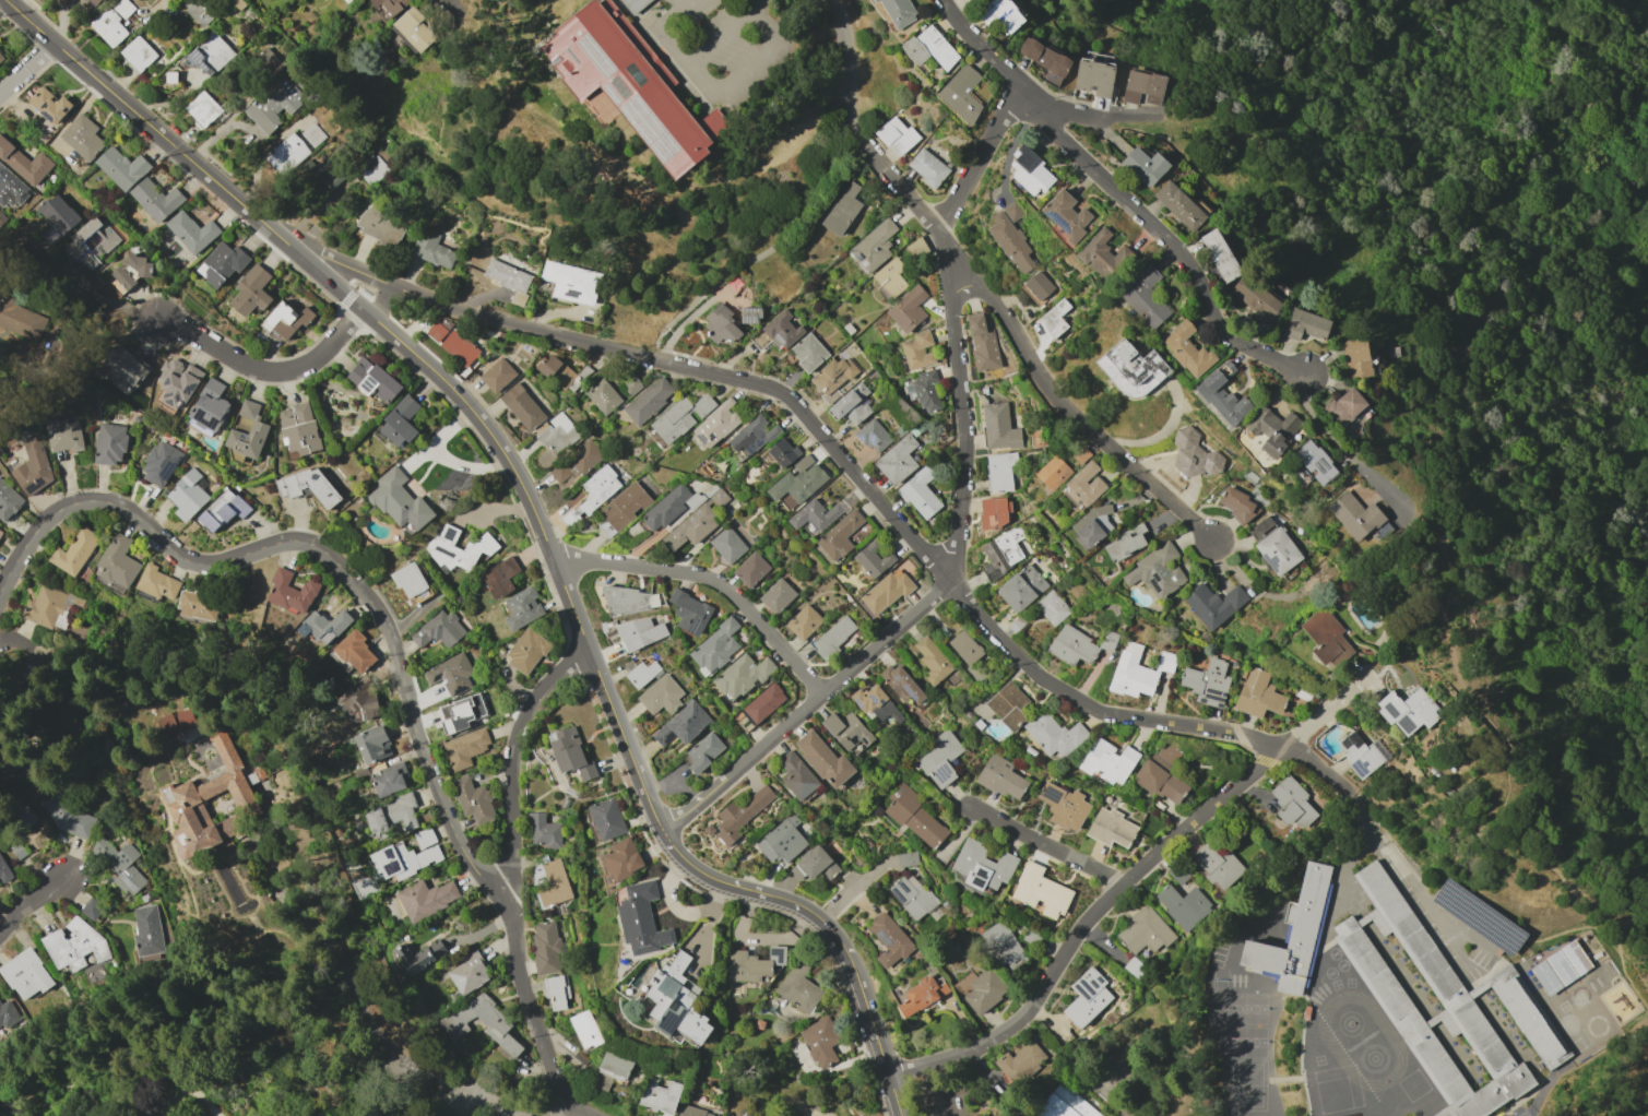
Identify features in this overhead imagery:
building: (970, 1)
building: (95, 2)
building: (238, 3)
building: (635, 4)
building: (391, 5)
building: (123, 8)
road: (155, 8)
building: (202, 10)
building: (899, 11)
building: (1001, 14)
building: (108, 26)
building: (415, 28)
road: (724, 37)
building: (929, 48)
building: (139, 54)
building: (212, 54)
building: (1, 57)
building: (1044, 57)
building: (269, 61)
road: (25, 66)
road: (845, 72)
building: (171, 78)
building: (1094, 78)
building: (628, 84)
building: (1142, 87)
building: (961, 93)
road: (715, 95)
road: (1032, 98)
building: (51, 106)
building: (203, 108)
building: (274, 109)
road: (147, 124)
building: (313, 134)
building: (896, 135)
building: (83, 136)
road: (1206, 149)
building: (287, 153)
road: (981, 156)
building: (25, 163)
building: (1145, 166)
building: (121, 167)
building: (927, 167)
building: (333, 168)
building: (372, 168)
building: (1030, 171)
road: (621, 182)
building: (12, 188)
building: (155, 198)
building: (1179, 204)
building: (842, 210)
building: (1065, 215)
building: (1, 217)
building: (58, 218)
building: (381, 226)
building: (191, 231)
building: (108, 234)
building: (1011, 237)
building: (873, 246)
road: (1176, 247)
building: (432, 248)
building: (1220, 254)
building: (1103, 256)
building: (222, 263)
building: (132, 271)
building: (507, 275)
building: (890, 276)
building: (570, 282)
building: (1038, 286)
building: (251, 290)
building: (519, 297)
building: (1145, 297)
road: (346, 298)
building: (1255, 298)
road: (381, 301)
building: (908, 309)
building: (750, 316)
building: (20, 318)
building: (1054, 318)
building: (285, 320)
building: (721, 325)
building: (1305, 325)
building: (437, 331)
building: (778, 332)
building: (982, 343)
building: (459, 348)
building: (1186, 349)
building: (917, 351)
building: (808, 352)
road: (1025, 353)
building: (1359, 358)
building: (1133, 369)
building: (125, 370)
road: (268, 370)
building: (498, 371)
building: (556, 371)
building: (833, 377)
building: (374, 380)
building: (179, 381)
building: (631, 384)
building: (926, 390)
building: (1222, 394)
building: (602, 396)
building: (648, 400)
building: (852, 404)
building: (210, 406)
building: (1344, 406)
building: (523, 407)
building: (679, 417)
building: (401, 422)
road: (1321, 422)
building: (715, 424)
building: (998, 427)
building: (298, 429)
building: (1272, 430)
building: (258, 431)
building: (63, 435)
building: (556, 435)
building: (751, 436)
building: (873, 436)
building: (171, 440)
building: (110, 443)
building: (1, 452)
building: (783, 452)
building: (1195, 455)
building: (584, 456)
building: (897, 460)
building: (1315, 462)
building: (161, 463)
building: (34, 466)
road: (1461, 467)
road: (855, 468)
building: (999, 471)
building: (558, 472)
building: (1053, 472)
building: (796, 483)
building: (1084, 485)
building: (309, 486)
building: (920, 492)
building: (188, 495)
building: (592, 495)
building: (400, 499)
building: (9, 500)
road: (527, 502)
building: (1237, 504)
building: (625, 506)
building: (668, 508)
building: (222, 511)
building: (994, 512)
building: (815, 514)
building: (1354, 515)
building: (696, 522)
building: (1092, 524)
building: (1261, 526)
building: (605, 529)
building: (0, 531)
building: (840, 535)
building: (1125, 543)
building: (727, 545)
road: (21, 549)
building: (458, 549)
building: (74, 550)
building: (1278, 550)
building: (1001, 553)
building: (873, 559)
building: (117, 563)
building: (750, 569)
building: (1157, 571)
building: (501, 578)
building: (408, 579)
road: (710, 579)
building: (157, 582)
road: (356, 585)
building: (1021, 587)
road: (939, 589)
building: (292, 592)
building: (884, 592)
building: (776, 595)
building: (628, 599)
building: (199, 604)
building: (1213, 604)
building: (51, 607)
building: (522, 607)
building: (1052, 607)
building: (689, 613)
building: (803, 622)
building: (324, 626)
building: (439, 629)
building: (639, 632)
building: (833, 637)
building: (1326, 637)
building: (715, 646)
building: (964, 646)
building: (1072, 646)
building: (526, 650)
building: (356, 652)
building: (932, 660)
building: (639, 673)
building: (1138, 673)
building: (451, 674)
building: (740, 676)
road: (1474, 678)
building: (1207, 682)
building: (900, 684)
building: (661, 694)
building: (1258, 694)
building: (359, 701)
building: (763, 702)
building: (876, 704)
building: (1008, 705)
road: (1326, 711)
building: (1408, 711)
building: (460, 715)
building: (176, 723)
building: (745, 723)
building: (681, 724)
building: (847, 733)
building: (1054, 734)
building: (372, 744)
building: (465, 747)
building: (703, 752)
building: (570, 753)
building: (1361, 753)
building: (823, 759)
building: (939, 759)
road: (514, 762)
building: (1107, 762)
building: (796, 775)
building: (1162, 775)
building: (252, 777)
building: (1001, 777)
building: (390, 782)
building: (187, 795)
building: (473, 799)
building: (1292, 803)
building: (1064, 806)
building: (23, 811)
building: (740, 814)
building: (69, 816)
building: (391, 816)
road: (1364, 816)
building: (915, 818)
building: (606, 819)
building: (1111, 828)
building: (543, 831)
building: (425, 836)
building: (782, 840)
road: (1045, 844)
building: (19, 848)
building: (906, 858)
building: (402, 859)
building: (621, 859)
building: (816, 864)
building: (1217, 865)
building: (981, 866)
building: (119, 867)
road: (1347, 867)
road: (697, 870)
building: (4, 871)
building: (554, 885)
road: (849, 890)
building: (1040, 891)
building: (912, 897)
building: (144, 898)
building: (426, 900)
road: (34, 901)
road: (789, 902)
building: (1183, 905)
road: (1424, 905)
building: (92, 909)
road: (1096, 911)
building: (641, 919)
building: (147, 930)
building: (1143, 931)
building: (387, 934)
road: (1525, 934)
building: (1287, 936)
road: (838, 940)
building: (889, 940)
road: (1450, 942)
building: (75, 945)
building: (1001, 945)
building: (545, 947)
building: (418, 955)
building: (1576, 958)
building: (752, 964)
building: (1560, 969)
building: (27, 972)
building: (470, 972)
building: (1545, 978)
building: (798, 988)
building: (984, 990)
building: (556, 993)
building: (922, 996)
building: (1087, 997)
building: (676, 1001)
road: (357, 1004)
building: (1445, 1006)
road: (533, 1012)
building: (8, 1013)
road: (868, 1019)
building: (498, 1028)
building: (585, 1029)
building: (820, 1041)
road: (1604, 1056)
building: (1020, 1062)
park: (1104, 1067)
building: (612, 1070)
road: (902, 1070)
road: (926, 1091)
road: (892, 1094)
building: (660, 1095)
parking lot: (938, 1095)
road: (1114, 1102)
road: (1542, 1103)
road: (1574, 1103)
building: (1064, 1104)
road: (564, 1112)

